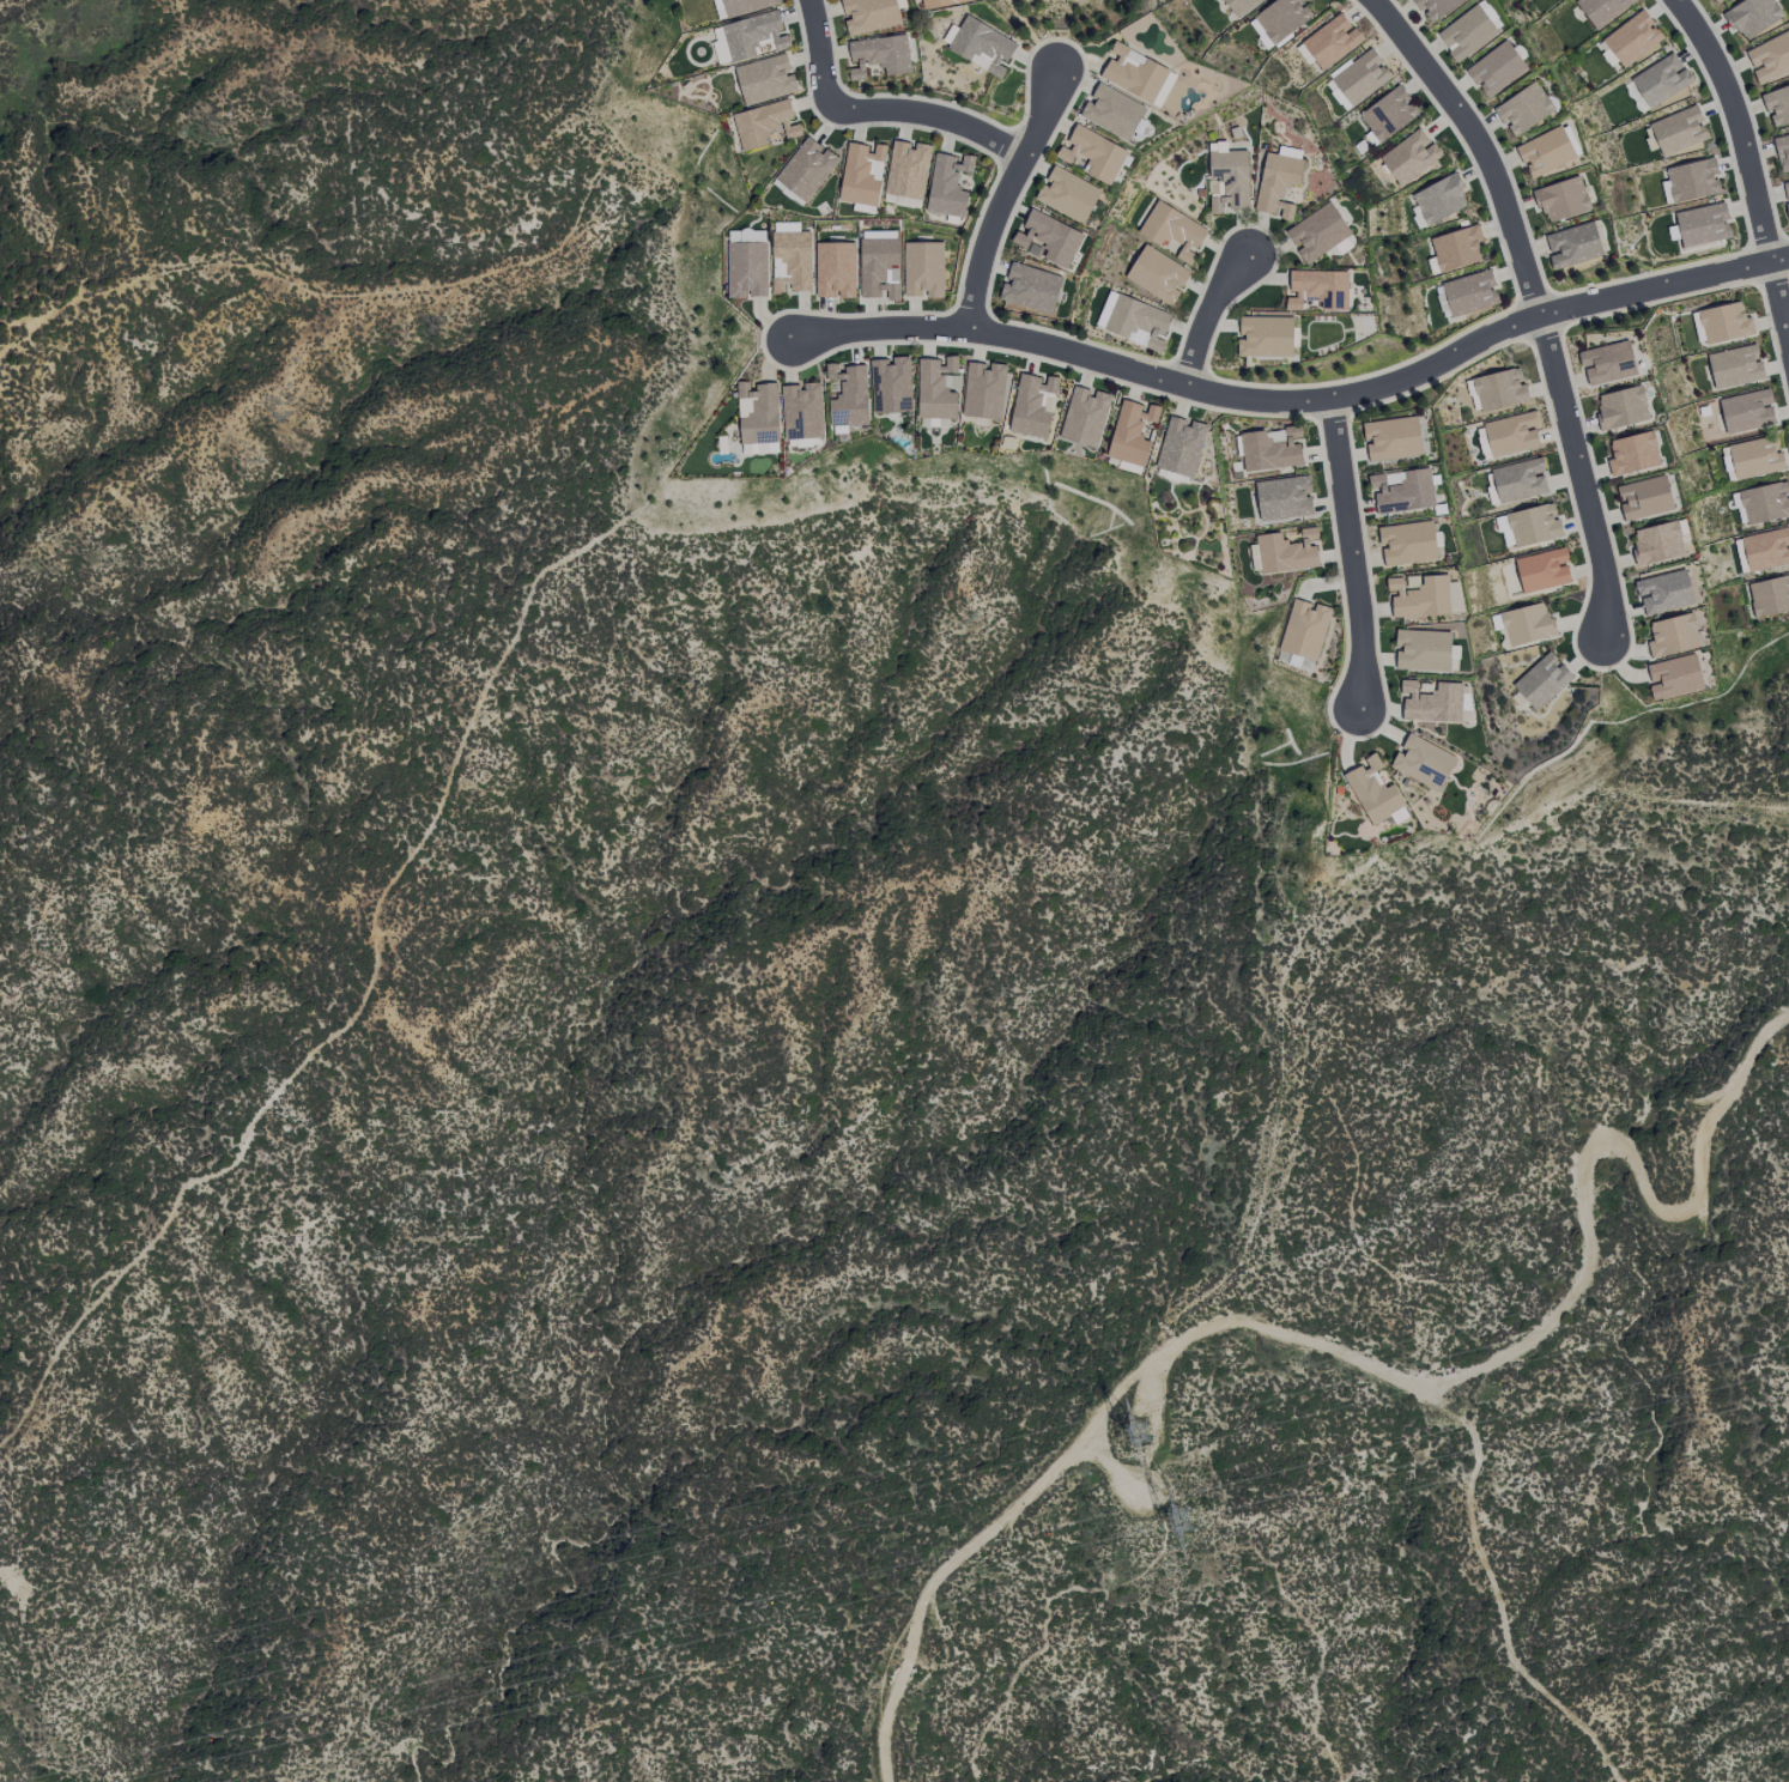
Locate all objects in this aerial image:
building: (1715, 1)
building: (940, 2)
building: (739, 6)
building: (1239, 6)
building: (1435, 7)
building: (1600, 10)
building: (868, 14)
building: (1488, 14)
building: (1751, 17)
building: (1280, 18)
building: (1466, 34)
building: (748, 37)
building: (1631, 38)
building: (1329, 42)
building: (981, 46)
road: (819, 54)
building: (878, 55)
building: (1769, 57)
building: (1496, 69)
building: (1360, 78)
building: (764, 79)
building: (1660, 80)
building: (1336, 96)
building: (1777, 104)
building: (1523, 109)
building: (1111, 111)
road: (932, 114)
building: (1388, 114)
building: (764, 123)
building: (1678, 131)
building: (1545, 152)
building: (1782, 152)
building: (1091, 154)
building: (1409, 157)
road: (1747, 160)
building: (805, 169)
building: (861, 174)
building: (1229, 178)
building: (1692, 180)
building: (1276, 183)
building: (947, 186)
road: (1003, 195)
building: (1067, 195)
building: (1785, 195)
building: (1438, 199)
building: (1560, 199)
building: (1702, 224)
building: (1172, 230)
building: (1317, 232)
building: (1048, 238)
building: (1345, 244)
building: (1572, 246)
building: (1456, 248)
building: (878, 266)
building: (833, 269)
building: (922, 269)
building: (1157, 274)
building: (1030, 287)
building: (1316, 290)
building: (1468, 293)
road: (1535, 302)
road: (1207, 315)
building: (1135, 321)
building: (1723, 323)
building: (1263, 337)
building: (1607, 363)
building: (1734, 366)
building: (935, 389)
building: (868, 390)
building: (984, 390)
building: (1498, 390)
road: (1294, 400)
building: (1031, 405)
building: (1620, 407)
building: (756, 412)
building: (1746, 412)
building: (1083, 417)
building: (1130, 432)
building: (1510, 435)
building: (1391, 438)
building: (1179, 445)
building: (1482, 447)
building: (759, 448)
building: (1271, 449)
building: (1632, 453)
building: (1754, 457)
building: (1518, 481)
building: (1401, 491)
building: (1282, 497)
building: (1644, 498)
building: (1765, 503)
building: (1533, 525)
building: (1503, 531)
building: (1407, 544)
building: (1656, 544)
building: (1765, 548)
building: (1286, 552)
road: (1352, 554)
building: (1542, 570)
building: (1663, 593)
building: (1769, 596)
building: (1418, 598)
building: (1453, 598)
building: (1526, 624)
building: (1303, 629)
building: (1672, 636)
building: (1423, 650)
building: (1293, 661)
building: (1673, 677)
building: (1541, 680)
building: (1431, 702)
building: (1421, 762)
building: (1371, 790)
road: (1682, 1126)
road: (1169, 1362)
power tower: (1141, 1430)
power tower: (1156, 1511)

